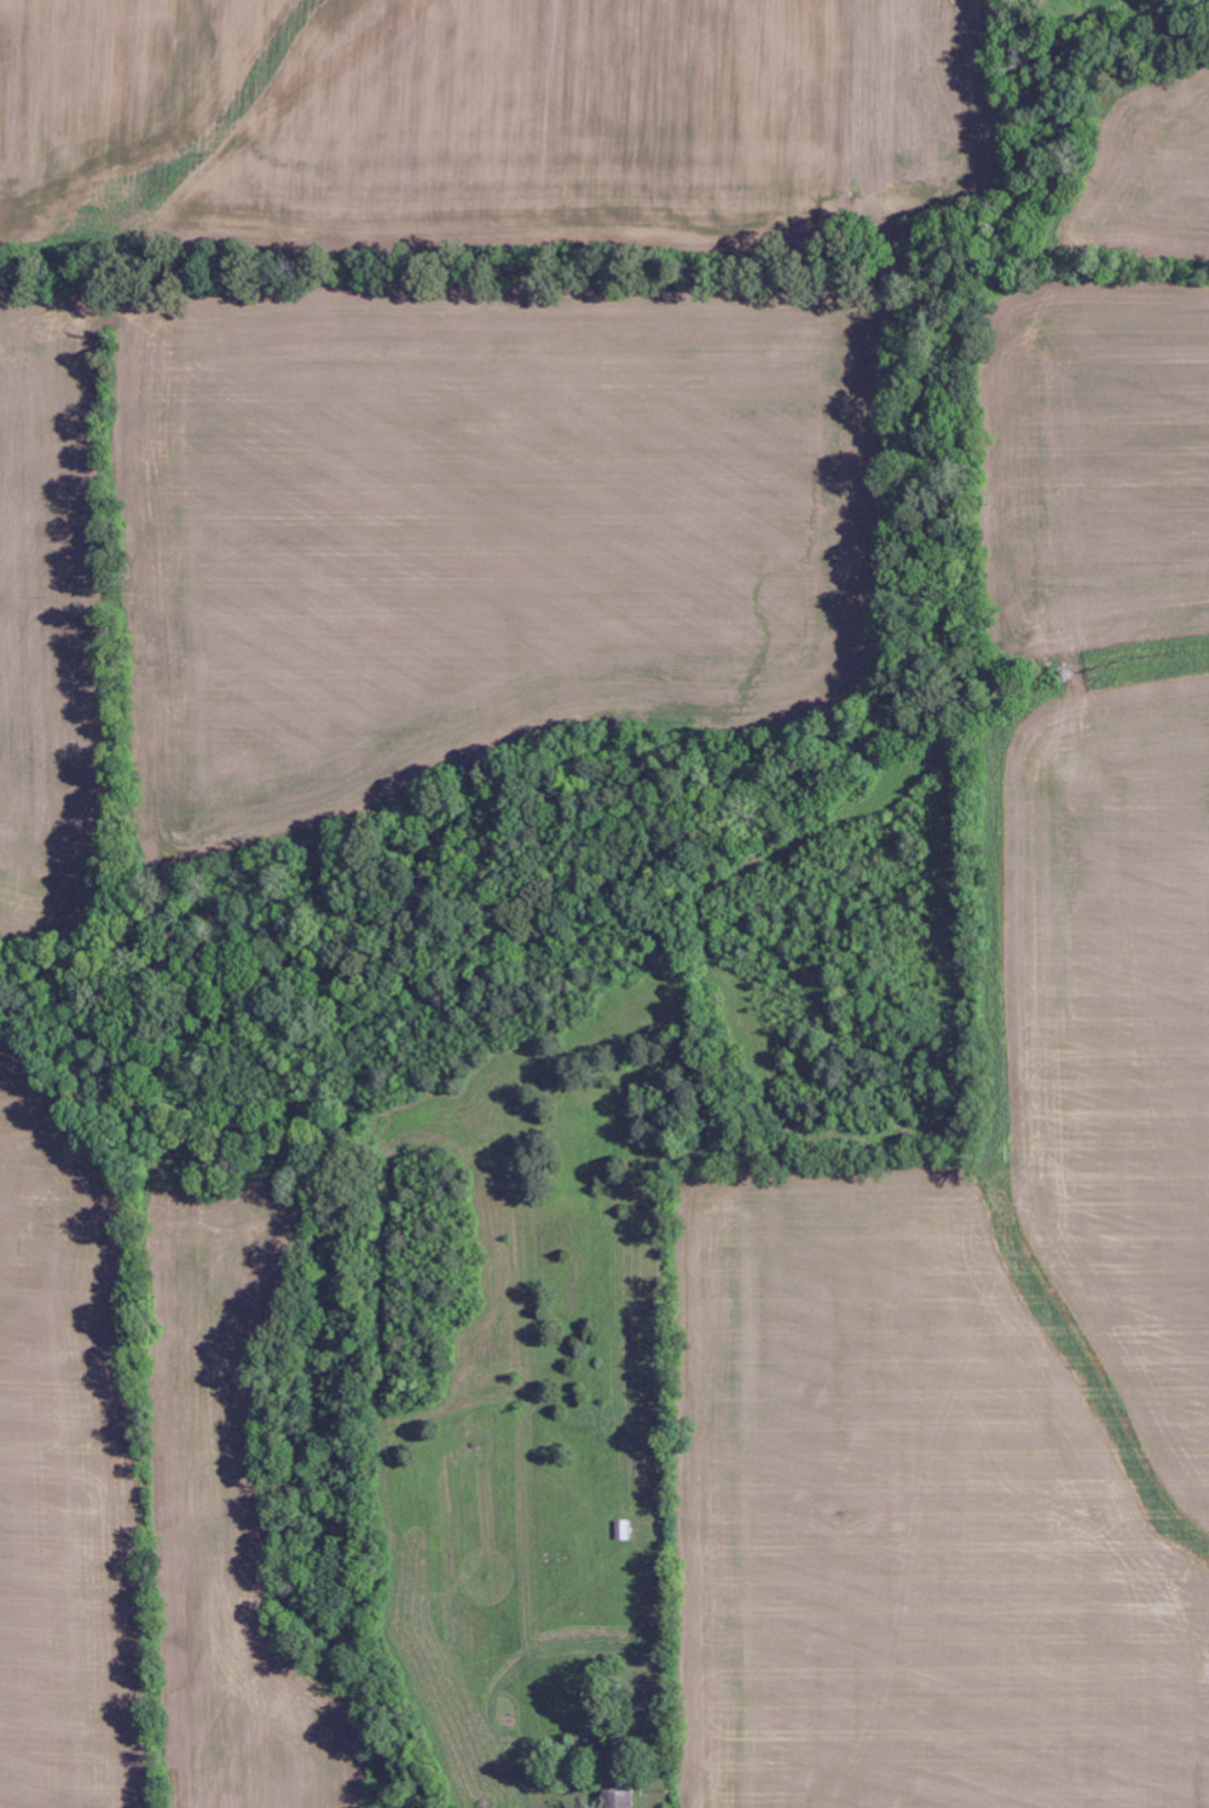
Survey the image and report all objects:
building: (619, 1793)

